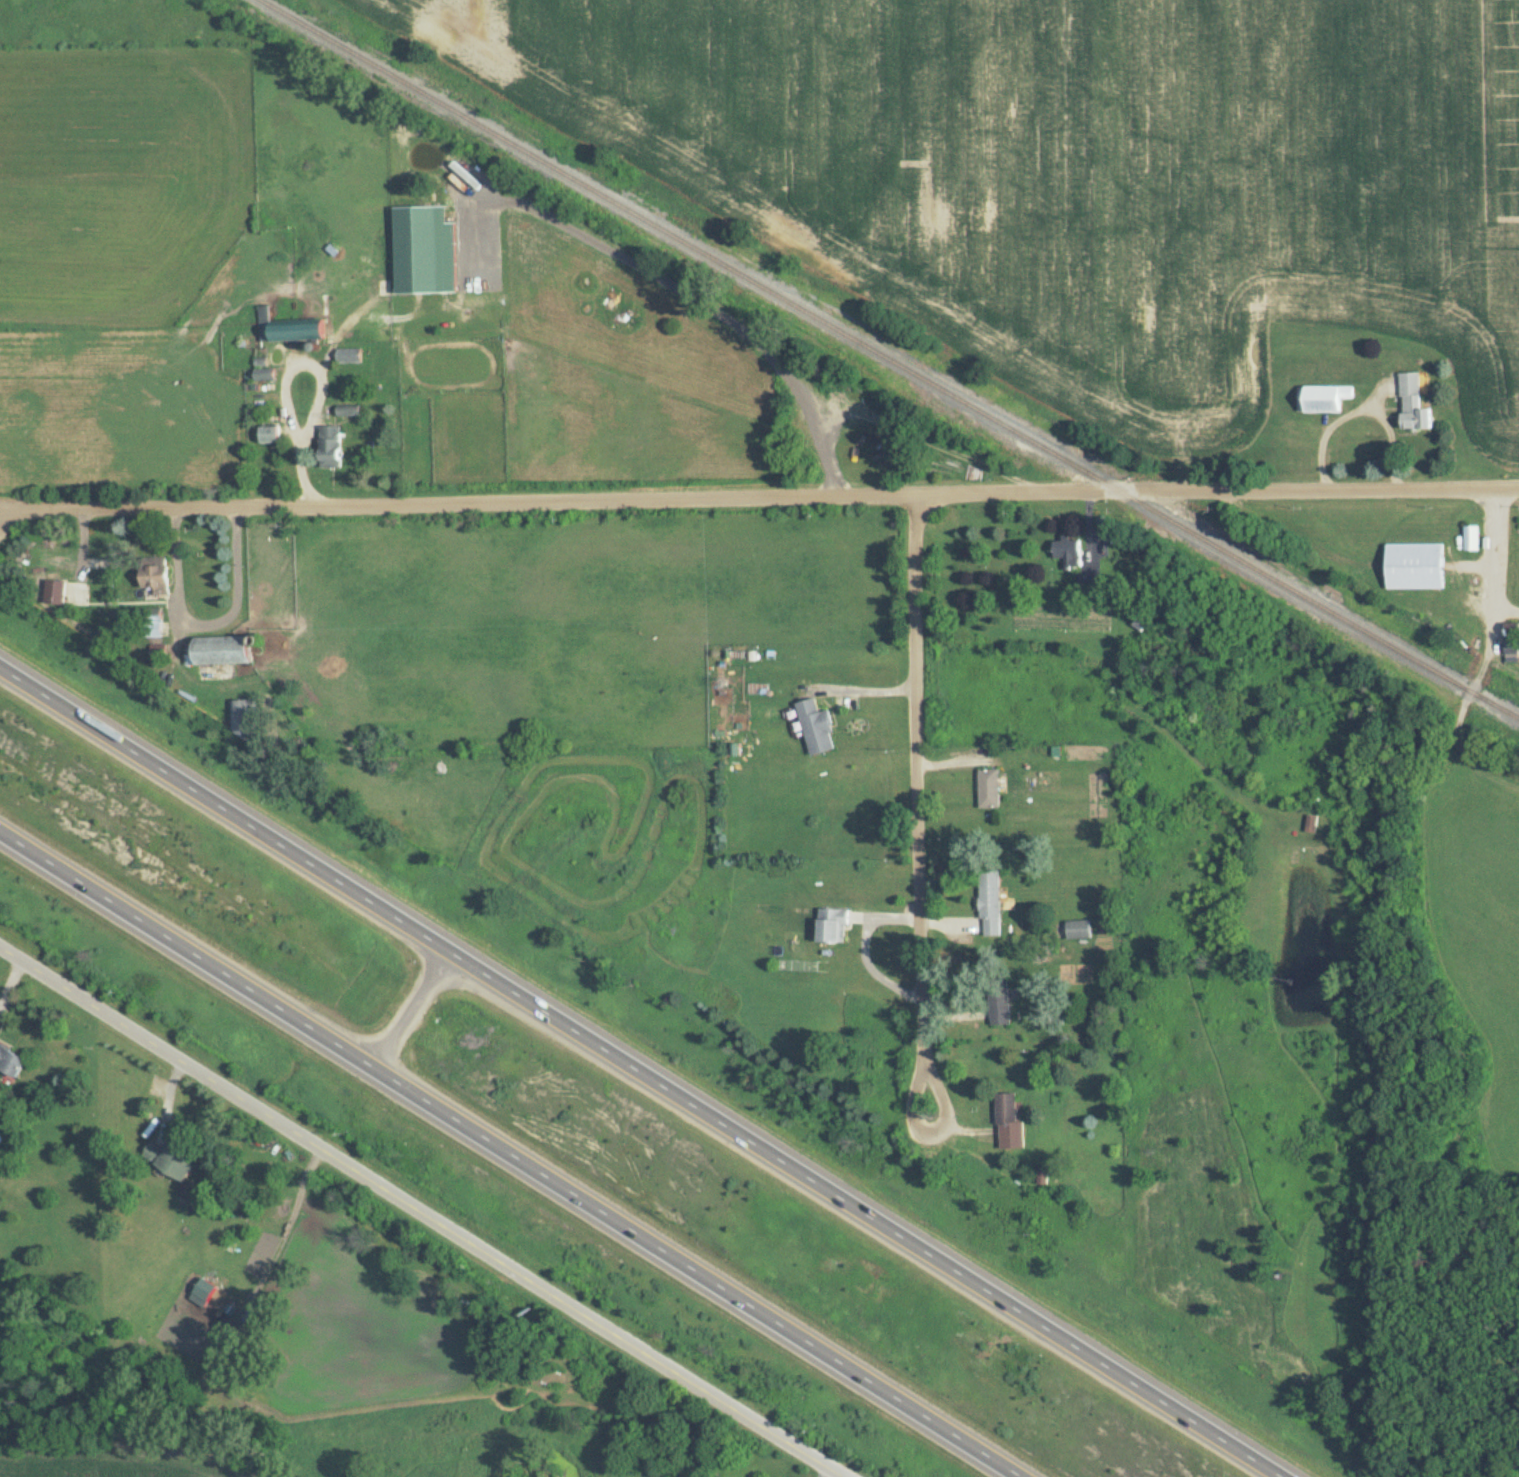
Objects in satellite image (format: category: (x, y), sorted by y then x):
building: (415, 257)
building: (289, 328)
building: (348, 356)
railway: (887, 357)
road: (281, 378)
building: (1320, 398)
building: (1412, 403)
road: (1359, 405)
building: (269, 435)
building: (330, 446)
road: (758, 495)
building: (1068, 553)
road: (1494, 554)
building: (1413, 566)
building: (154, 574)
building: (1088, 582)
building: (55, 591)
road: (209, 619)
building: (1511, 638)
building: (219, 650)
road: (865, 694)
building: (243, 718)
building: (815, 726)
building: (988, 788)
road: (918, 805)
building: (1311, 822)
building: (989, 902)
building: (831, 925)
building: (1077, 928)
road: (865, 951)
road: (401, 1003)
building: (999, 1004)
building: (10, 1061)
road: (638, 1074)
building: (1009, 1122)
road: (511, 1151)
building: (167, 1161)
road: (425, 1209)
road: (287, 1228)
building: (203, 1289)

